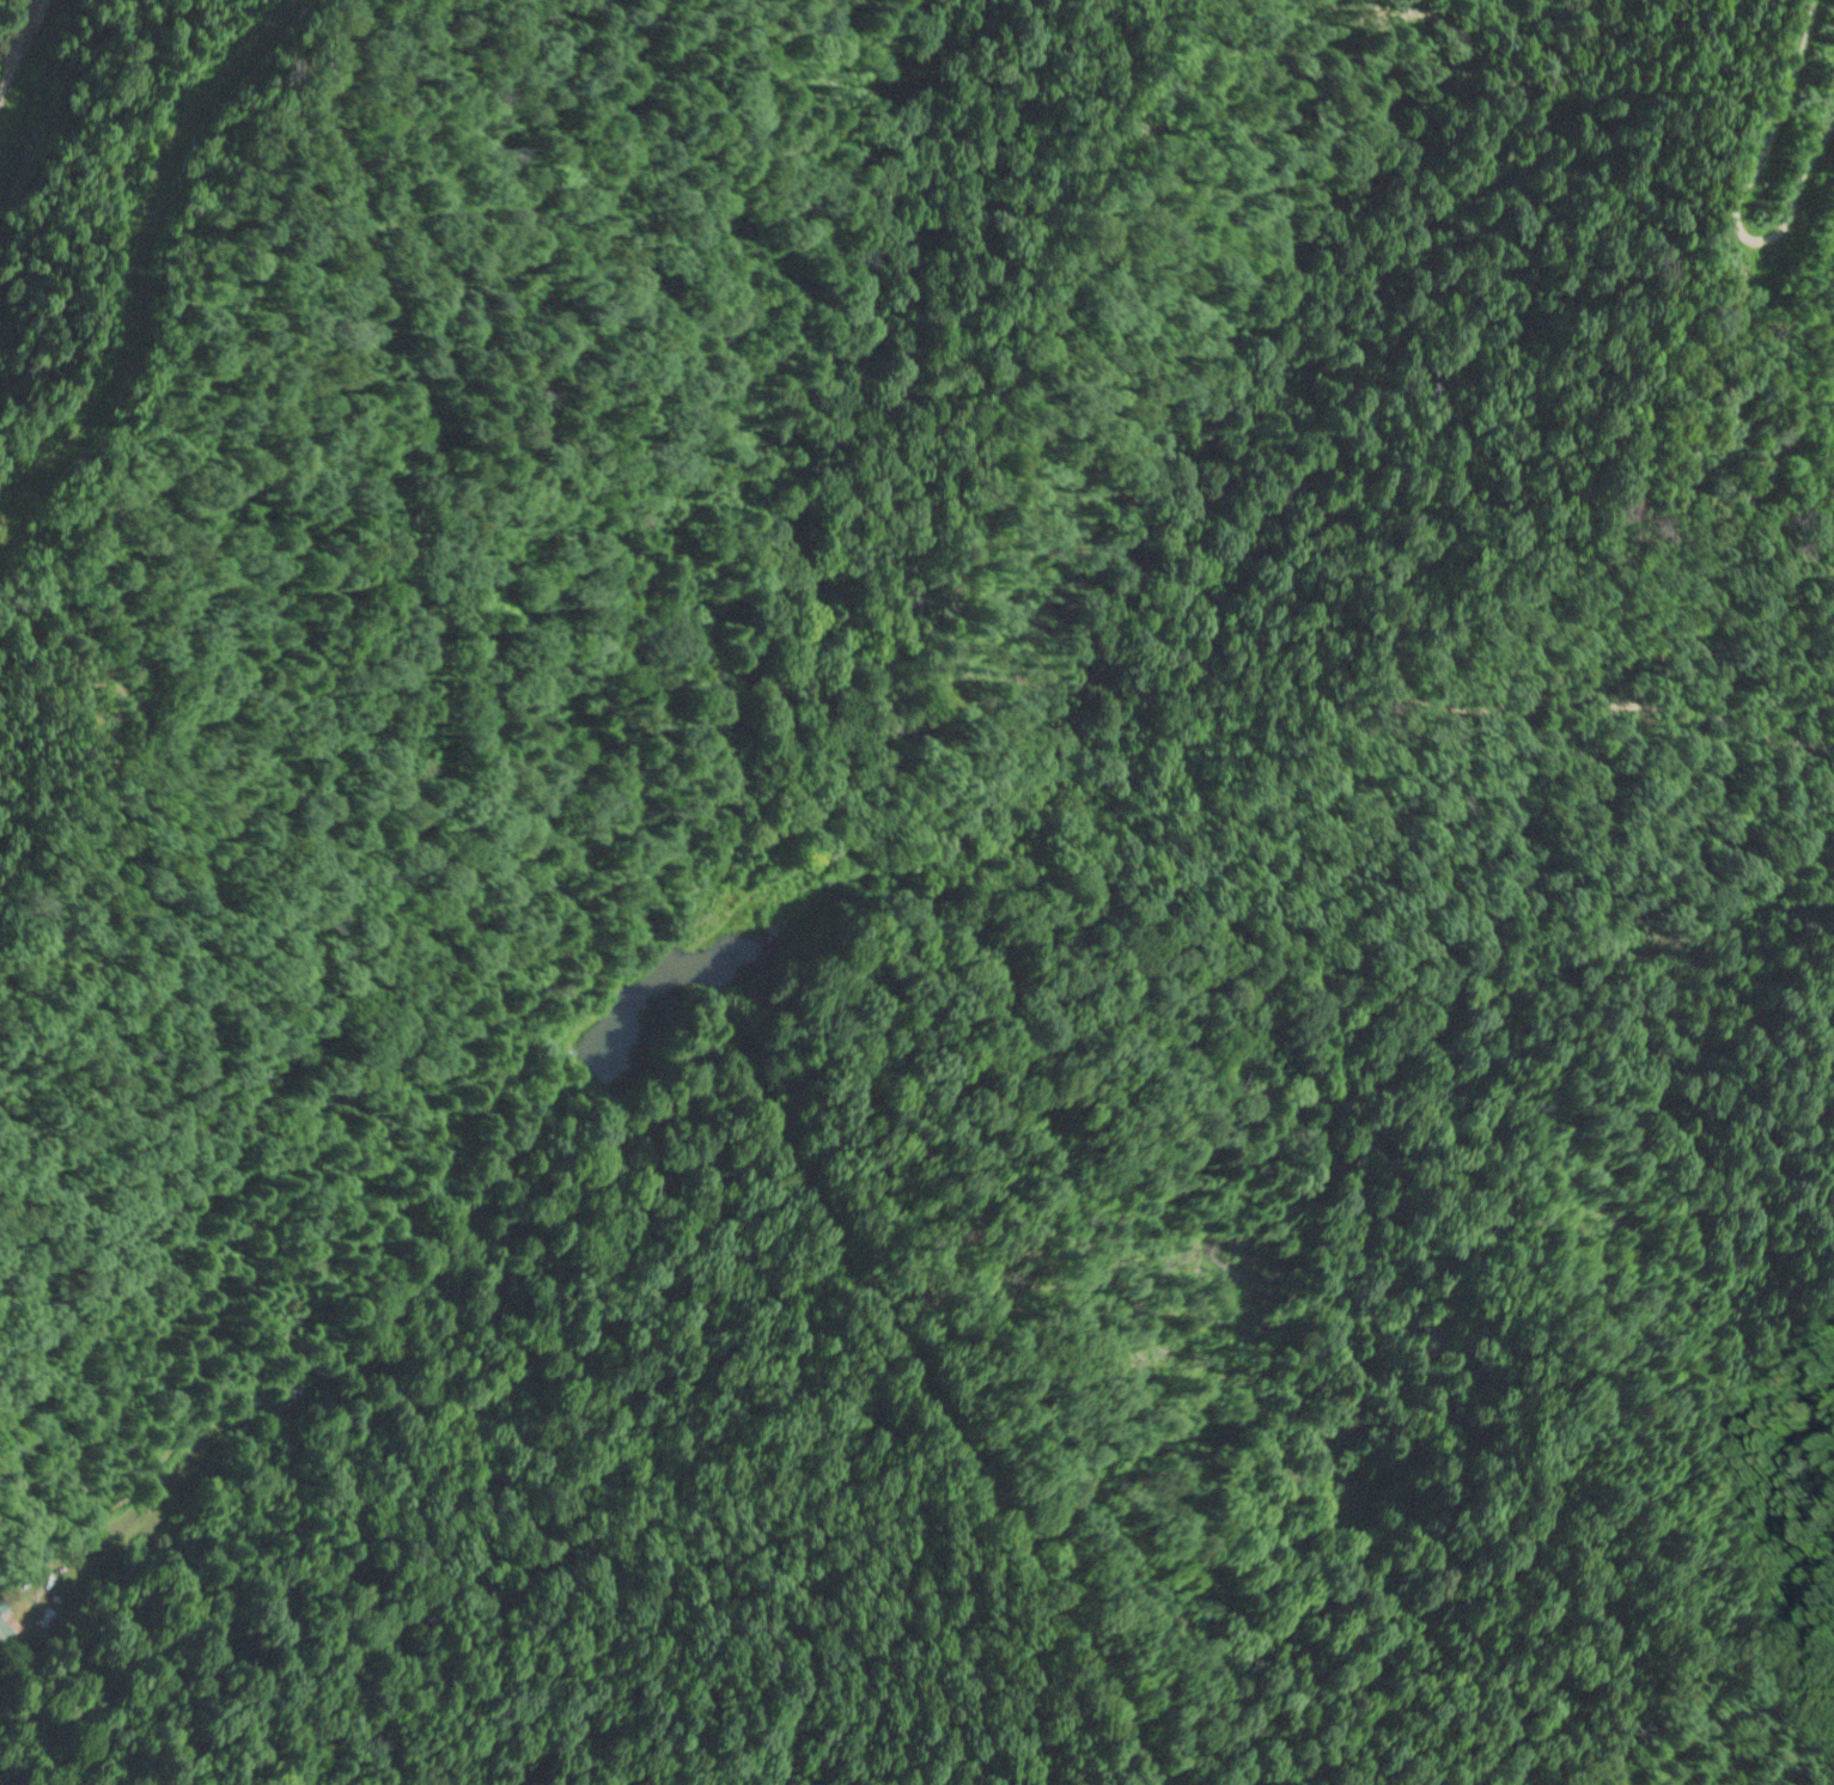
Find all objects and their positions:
road: (1739, 193)
road: (138, 250)
building: (80, 1577)
building: (6, 1623)
building: (1, 1674)

